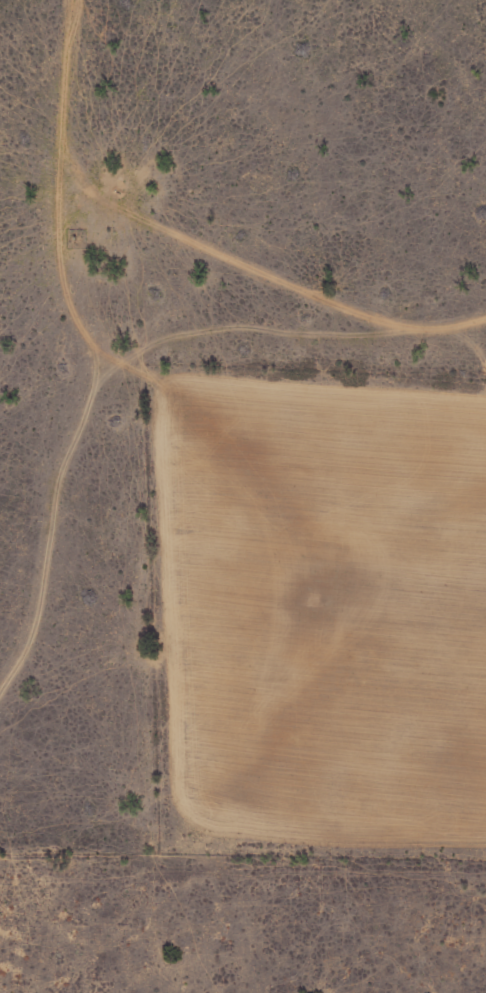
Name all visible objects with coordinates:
road: (291, 227)
road: (65, 337)

